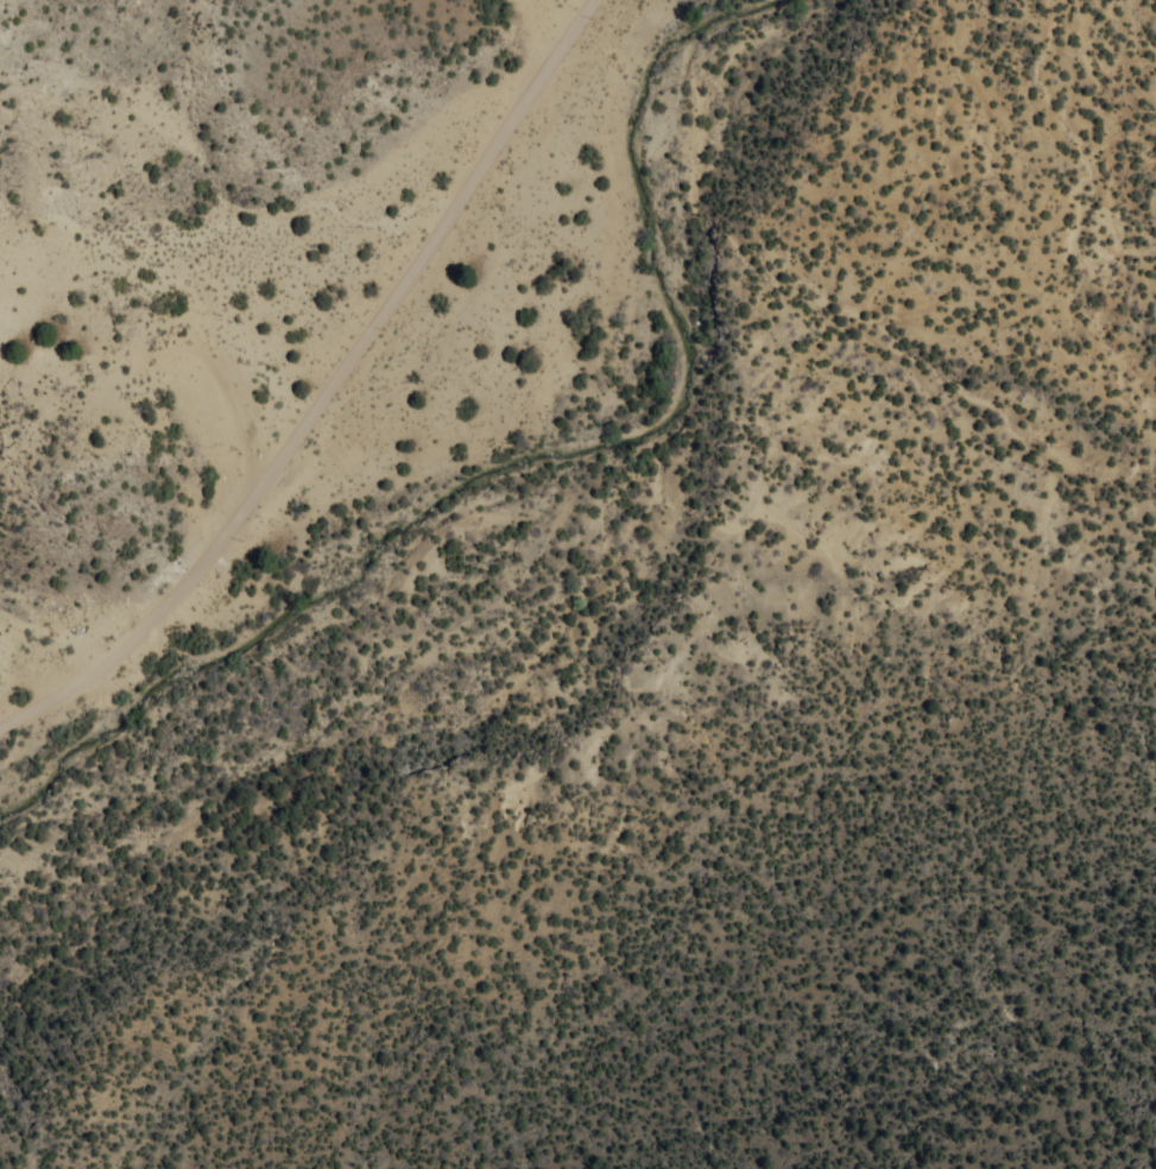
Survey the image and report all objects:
road: (323, 393)

